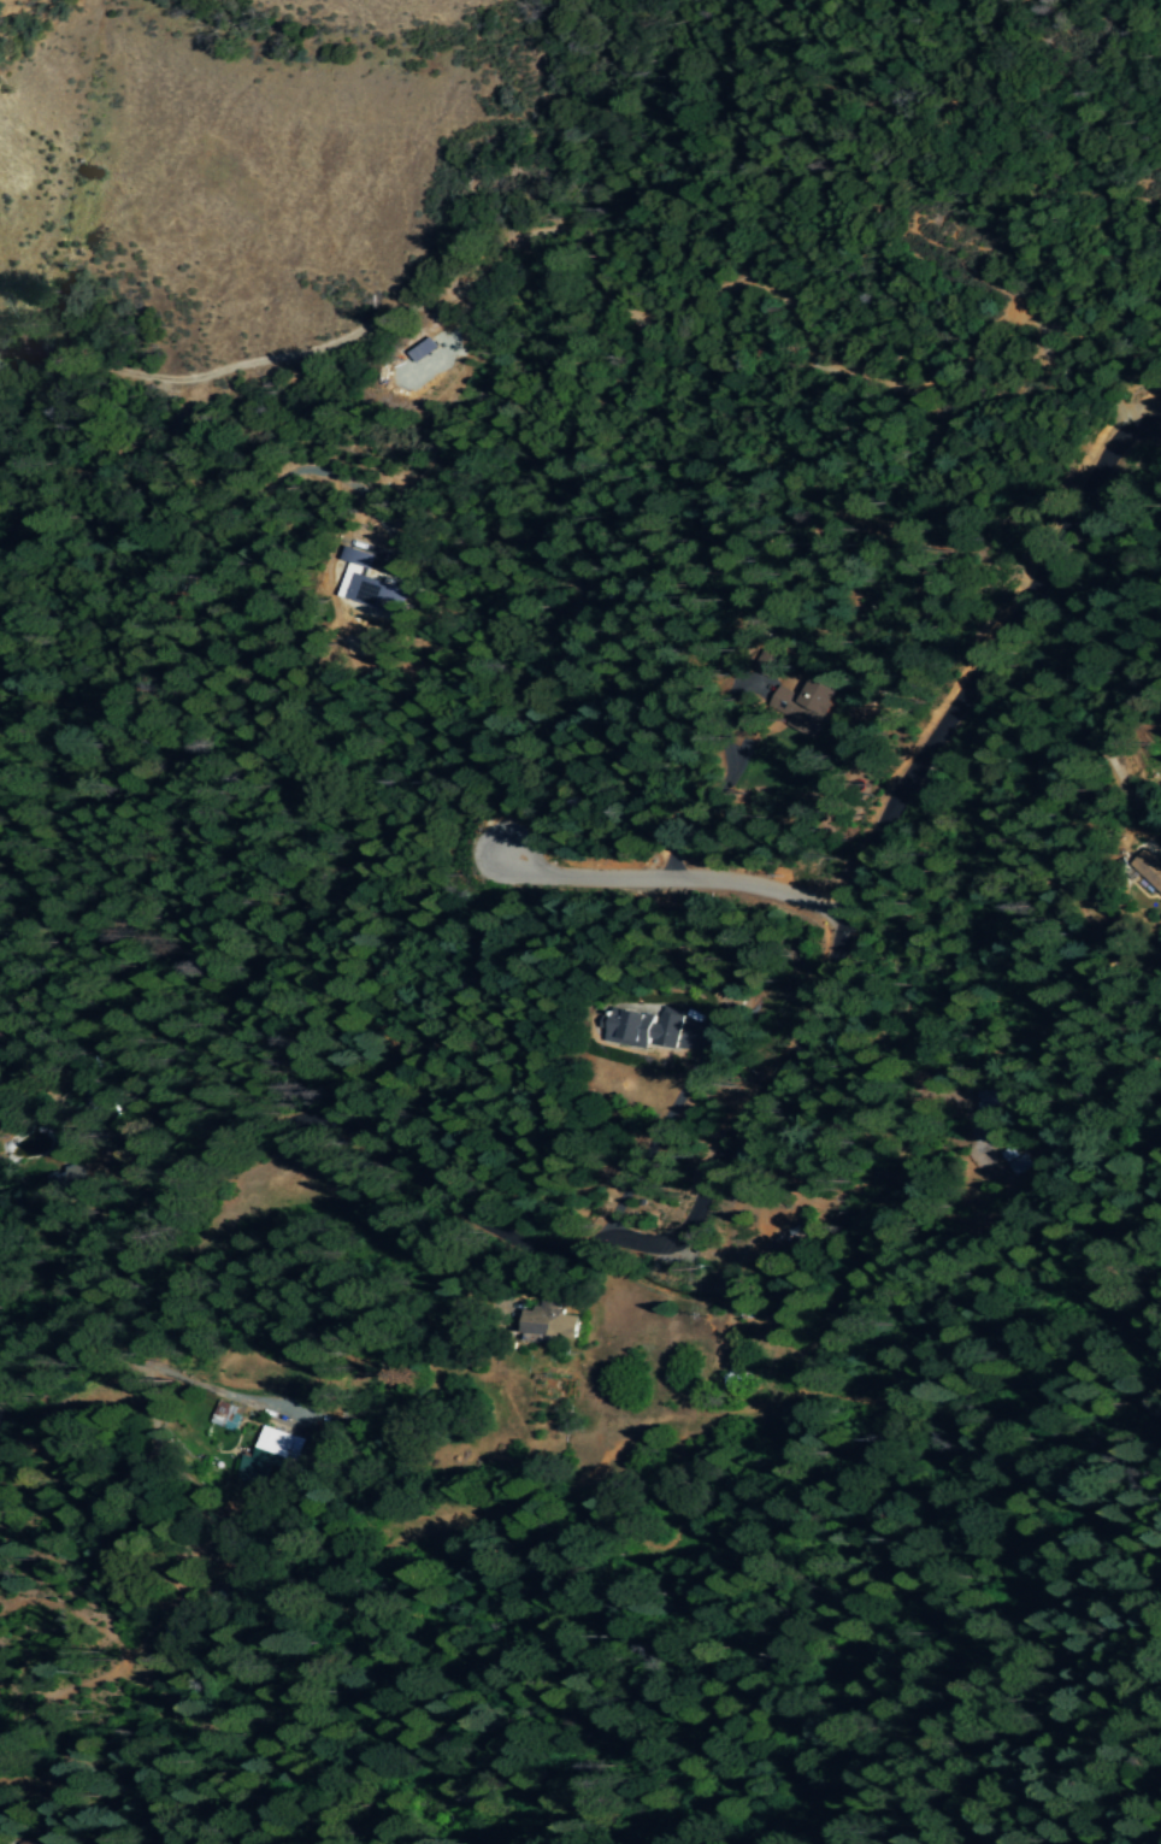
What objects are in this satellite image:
road: (935, 65)
road: (917, 210)
road: (447, 284)
road: (882, 383)
road: (246, 477)
road: (444, 531)
building: (367, 585)
building: (766, 661)
road: (562, 684)
building: (801, 703)
road: (727, 784)
road: (671, 878)
road: (349, 913)
building: (641, 1030)
road: (713, 1178)
building: (548, 1322)
building: (224, 1415)
building: (270, 1456)
building: (49, 1843)

